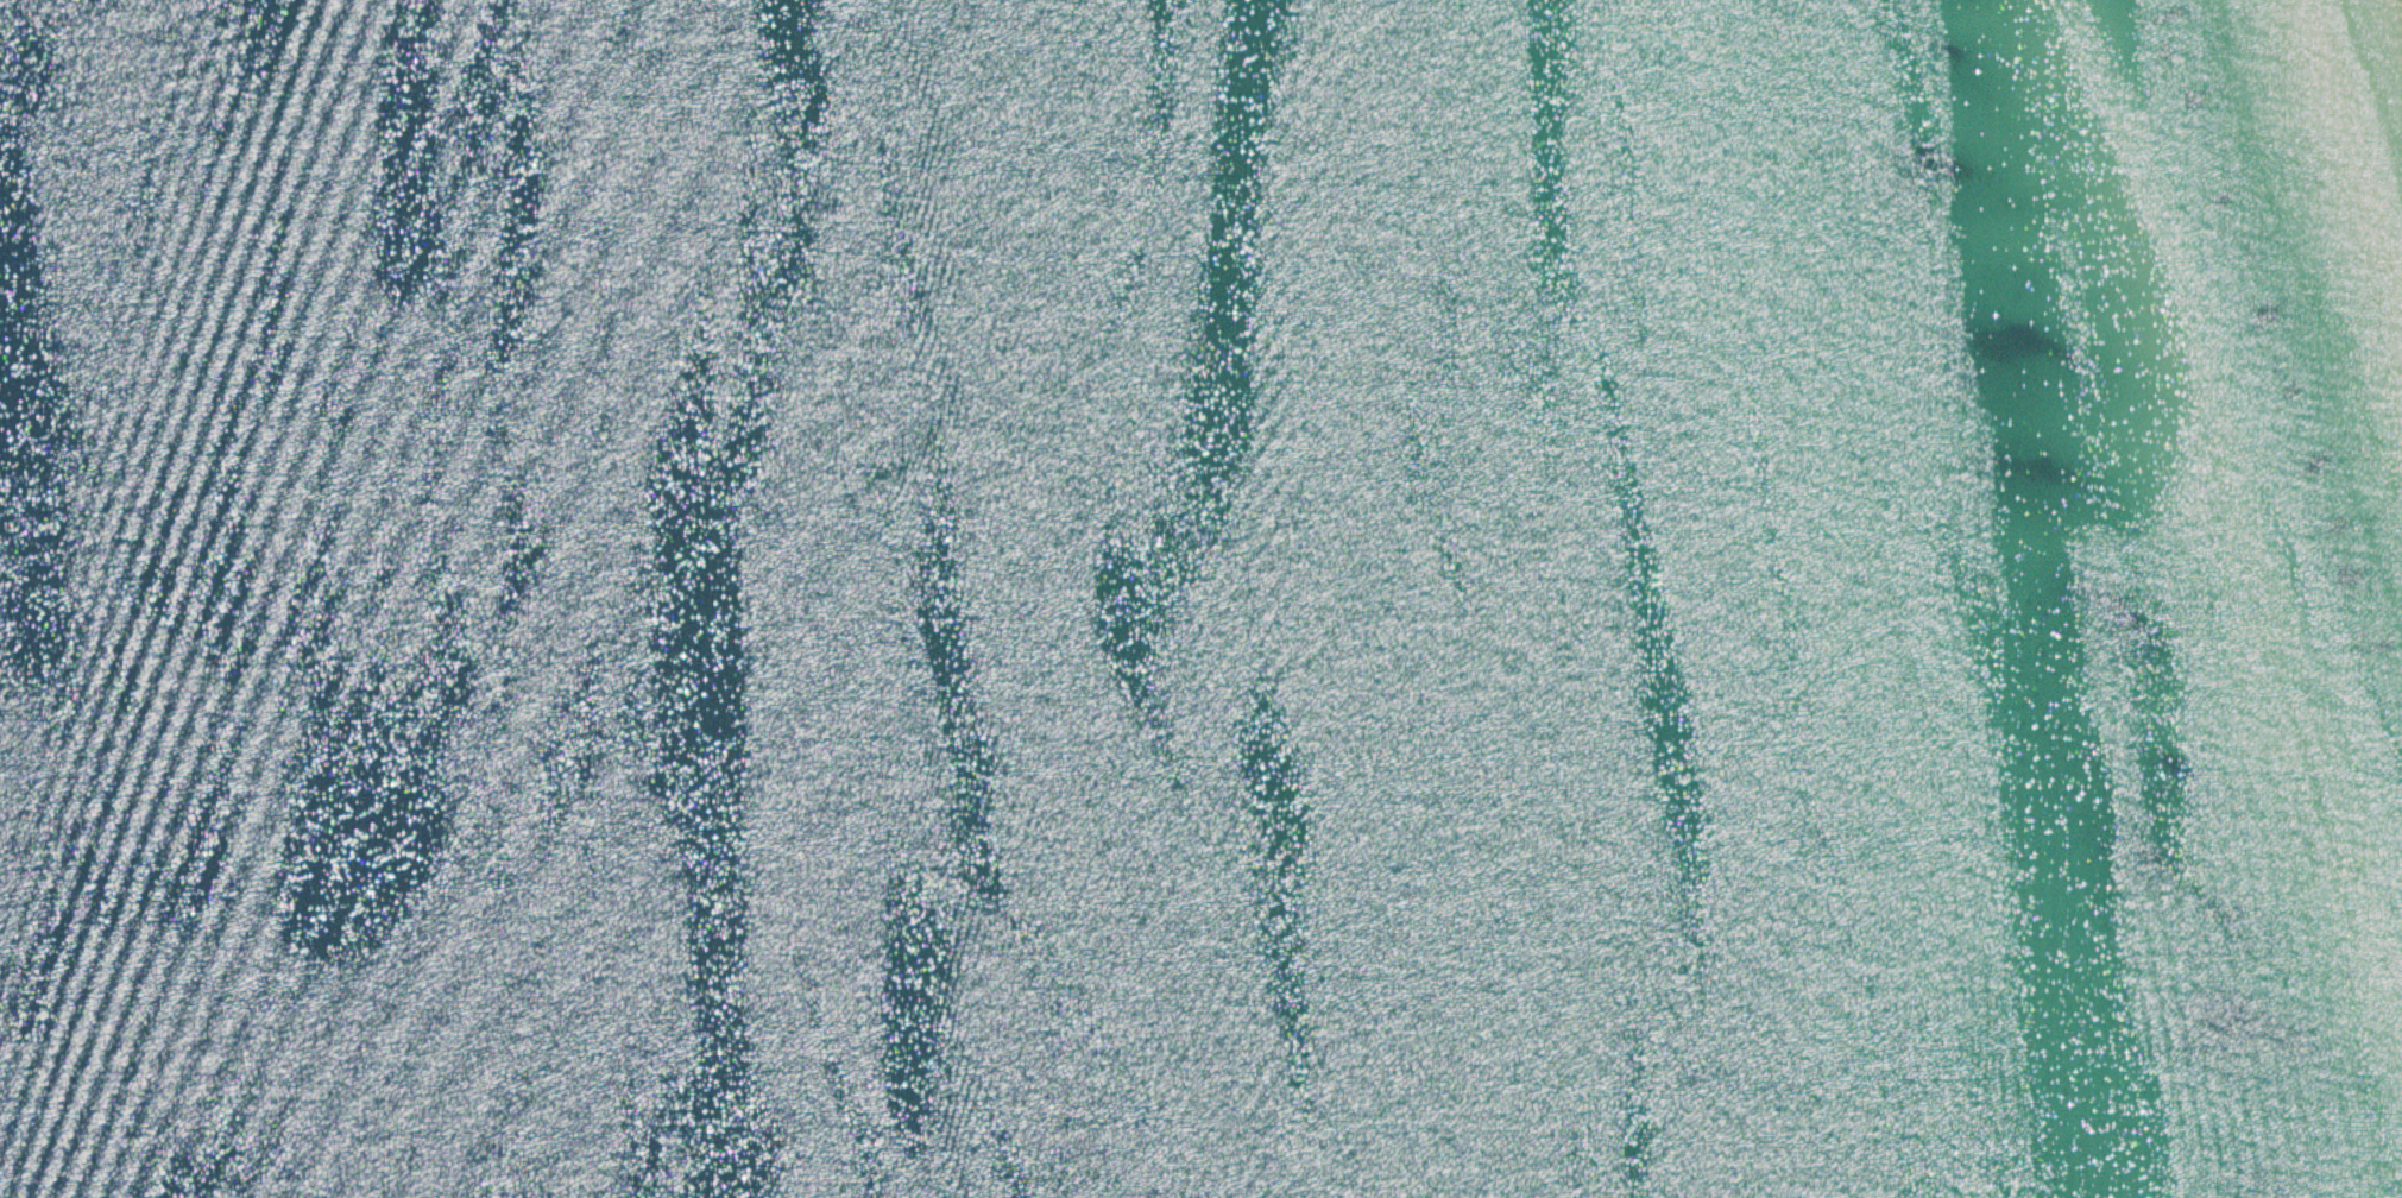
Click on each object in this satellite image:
park: (2396, 17)

